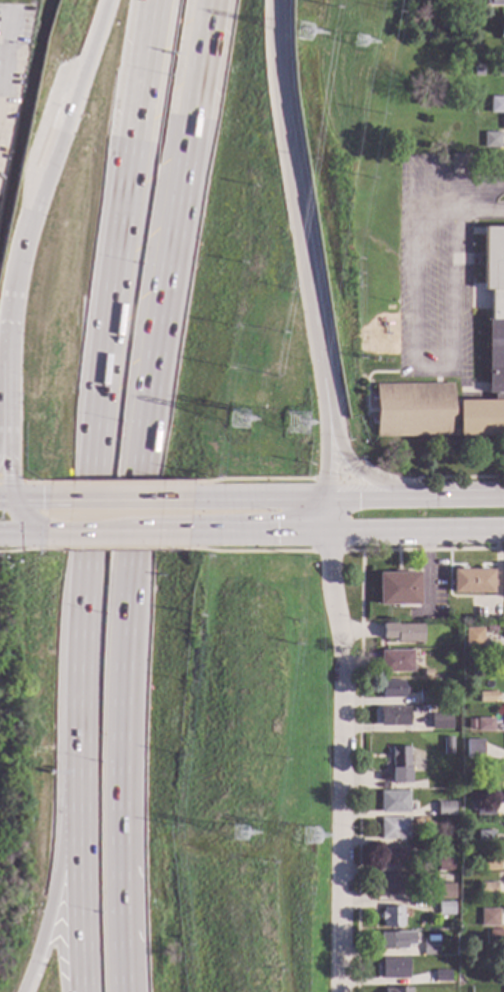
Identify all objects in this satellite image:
building: (473, 2)
building: (495, 2)
road: (4, 35)
building: (501, 35)
power tower: (305, 36)
power tower: (358, 49)
building: (497, 68)
building: (477, 70)
building: (496, 105)
building: (503, 122)
road: (41, 132)
building: (491, 140)
road: (56, 144)
building: (459, 161)
road: (292, 206)
road: (480, 213)
road: (418, 338)
building: (495, 351)
road: (6, 361)
road: (101, 396)
power tower: (236, 427)
power tower: (295, 430)
road: (3, 439)
road: (328, 454)
road: (355, 467)
road: (12, 487)
road: (23, 493)
road: (137, 493)
traffic signals: (13, 494)
road: (131, 494)
road: (313, 496)
traffic signals: (330, 497)
road: (457, 497)
road: (357, 531)
traffic signals: (330, 532)
road: (162, 534)
road: (75, 536)
road: (18, 537)
traffic signals: (37, 537)
building: (472, 581)
building: (398, 589)
street lamp: (103, 628)
building: (402, 632)
building: (470, 639)
building: (454, 642)
building: (503, 660)
building: (395, 661)
building: (477, 666)
building: (426, 673)
building: (393, 689)
building: (426, 697)
building: (485, 697)
building: (393, 715)
building: (440, 722)
building: (470, 725)
building: (484, 725)
road: (342, 743)
building: (447, 746)
building: (473, 749)
building: (399, 765)
building: (491, 781)
street lamp: (96, 792)
building: (394, 802)
building: (472, 806)
building: (484, 807)
building: (445, 809)
building: (416, 822)
building: (394, 828)
building: (483, 836)
power tower: (241, 839)
power tower: (310, 843)
building: (395, 857)
building: (445, 861)
building: (489, 862)
building: (467, 864)
building: (397, 884)
building: (487, 890)
building: (445, 891)
road: (52, 894)
road: (79, 894)
building: (446, 908)
building: (392, 917)
building: (488, 917)
building: (496, 937)
building: (389, 940)
building: (430, 947)
street lamp: (98, 957)
building: (394, 969)
building: (442, 976)
building: (397, 990)
building: (420, 990)
building: (451, 990)

